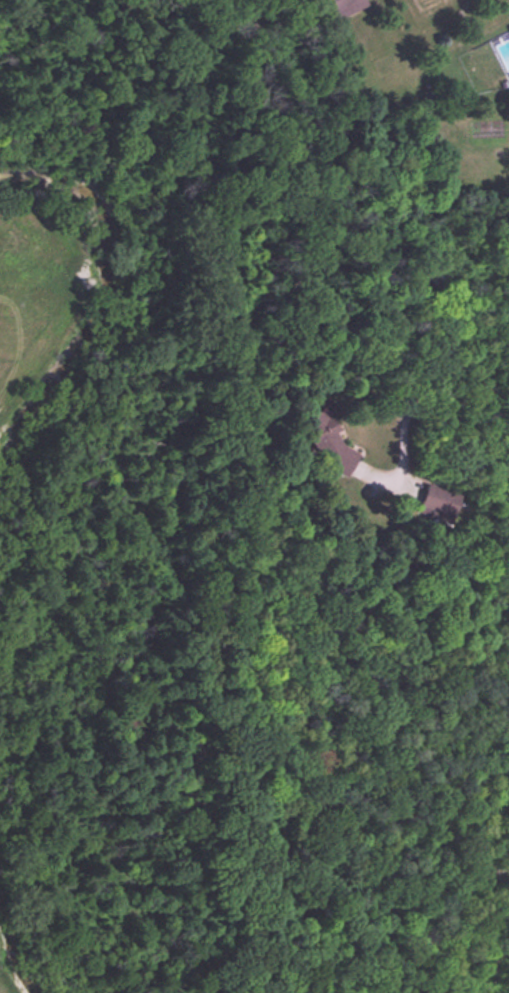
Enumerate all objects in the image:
building: (343, 7)
building: (508, 26)
building: (324, 440)

